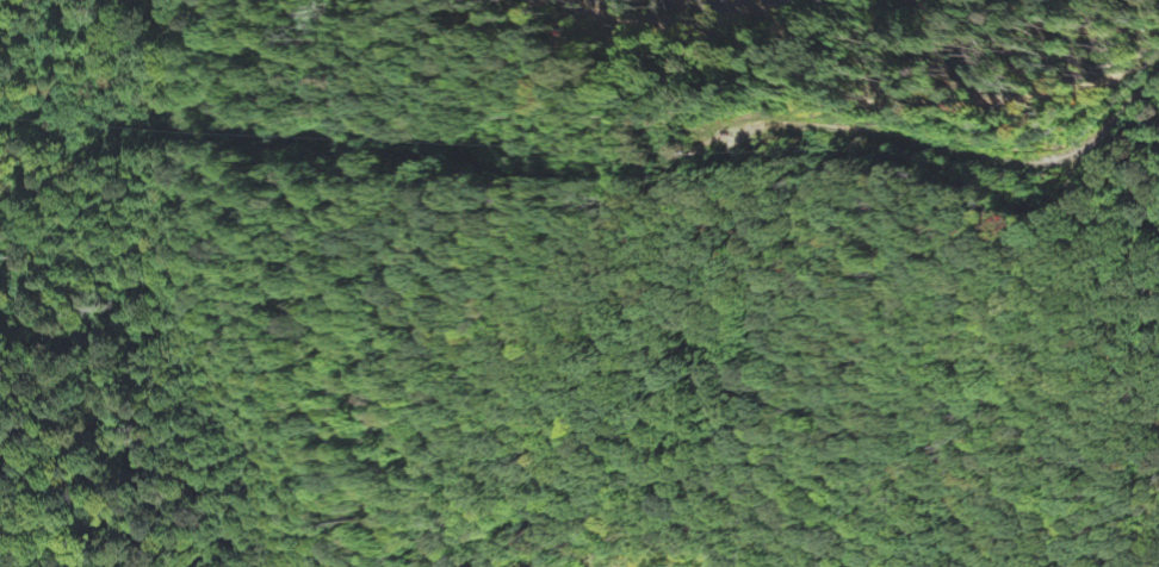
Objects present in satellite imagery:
road: (947, 150)

